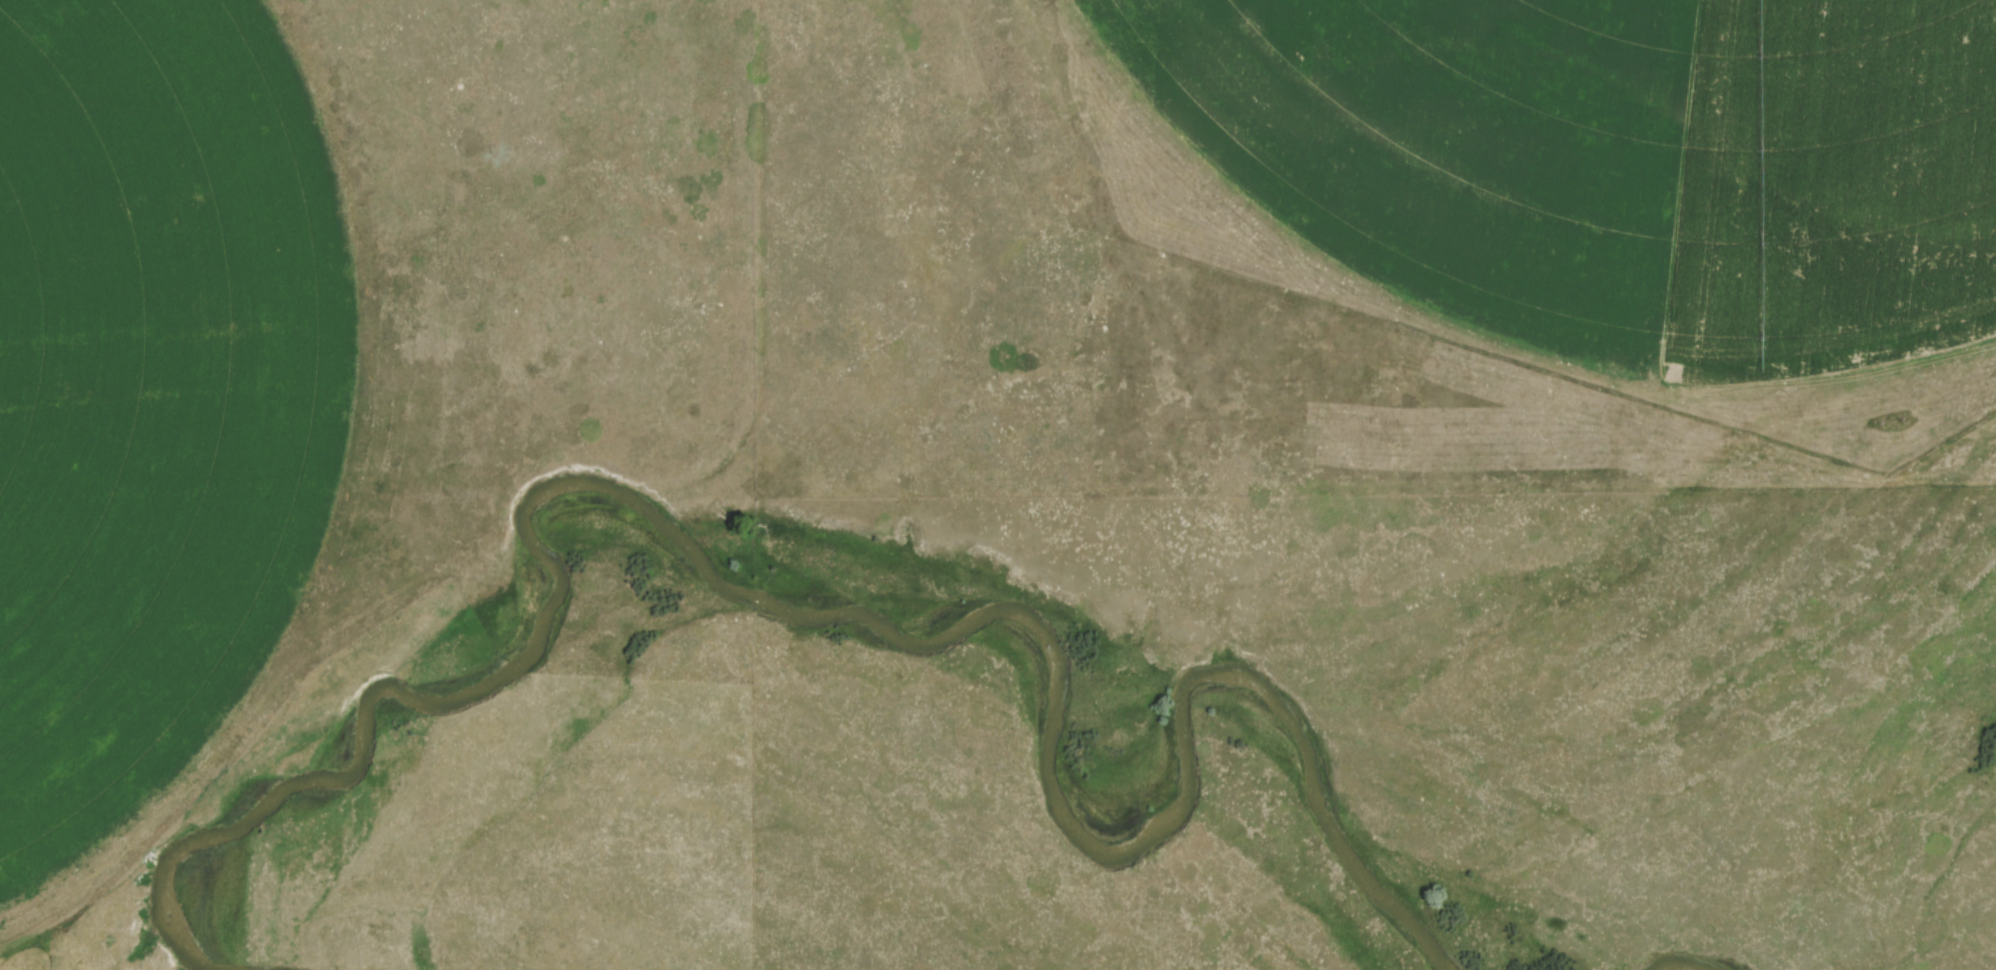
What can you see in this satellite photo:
river: (834, 613)
river: (1667, 965)

